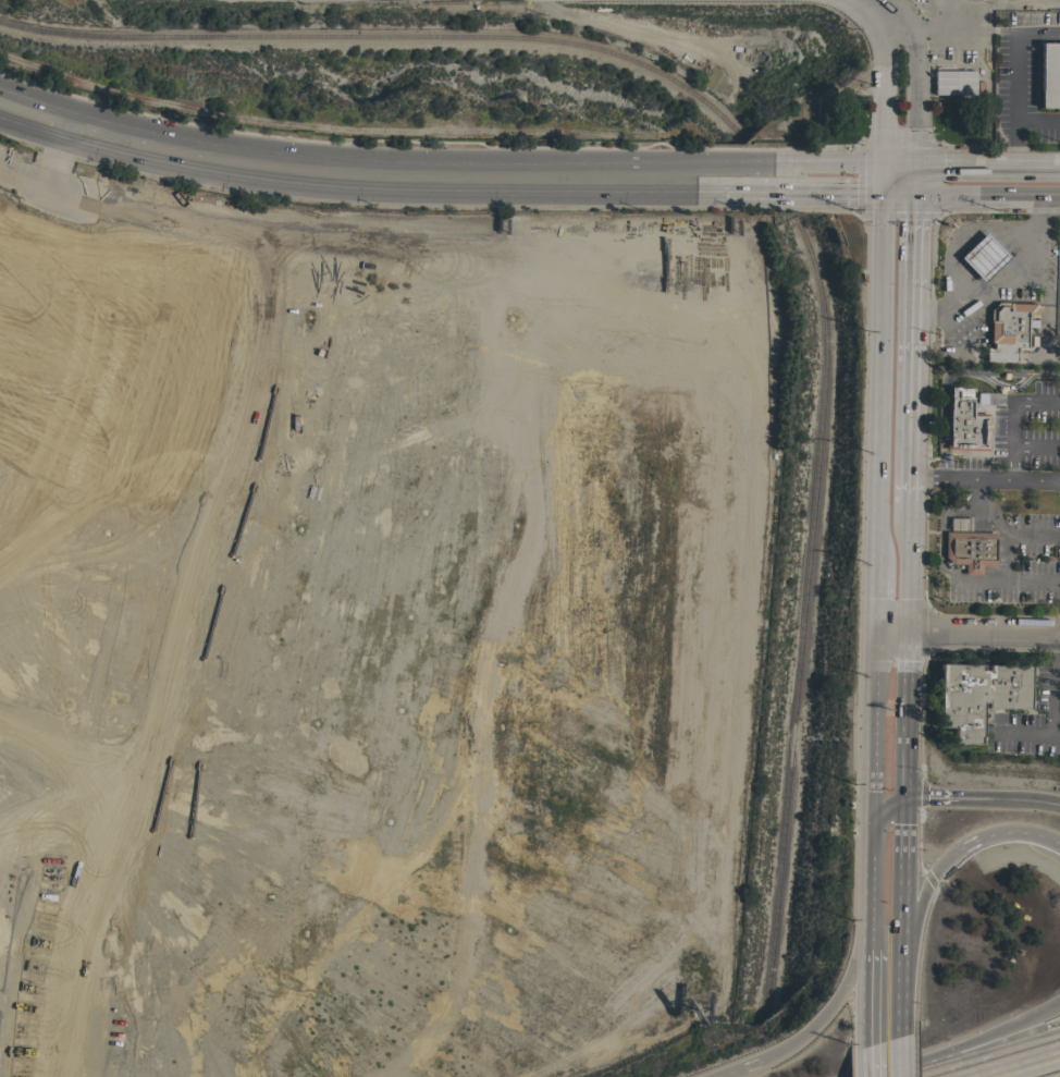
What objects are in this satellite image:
road: (885, 14)
railway: (394, 36)
road: (1013, 73)
building: (952, 82)
building: (1044, 88)
road: (911, 98)
road: (880, 100)
road: (37, 123)
road: (111, 144)
road: (985, 162)
traffic signals: (912, 170)
road: (896, 172)
traffic signals: (879, 174)
road: (816, 176)
road: (428, 180)
road: (731, 180)
road: (983, 188)
road: (999, 273)
gas station: (998, 290)
building: (1007, 329)
road: (912, 336)
road: (877, 369)
road: (951, 375)
road: (1013, 420)
building: (963, 421)
road: (1036, 449)
road: (985, 480)
road: (938, 531)
road: (1000, 531)
building: (970, 549)
road: (910, 568)
road: (976, 579)
road: (1008, 580)
road: (875, 598)
railway: (806, 615)
road: (892, 632)
road: (984, 634)
landfill: (374, 636)
road: (1053, 689)
building: (977, 696)
road: (908, 717)
road: (873, 726)
road: (1030, 799)
road: (952, 800)
road: (885, 807)
road: (950, 857)
road: (871, 871)
road: (902, 882)
road: (871, 983)
road: (897, 1003)
road: (833, 1004)
road: (977, 1040)
road: (893, 1060)
road: (1006, 1061)
road: (868, 1062)
road: (739, 1069)

